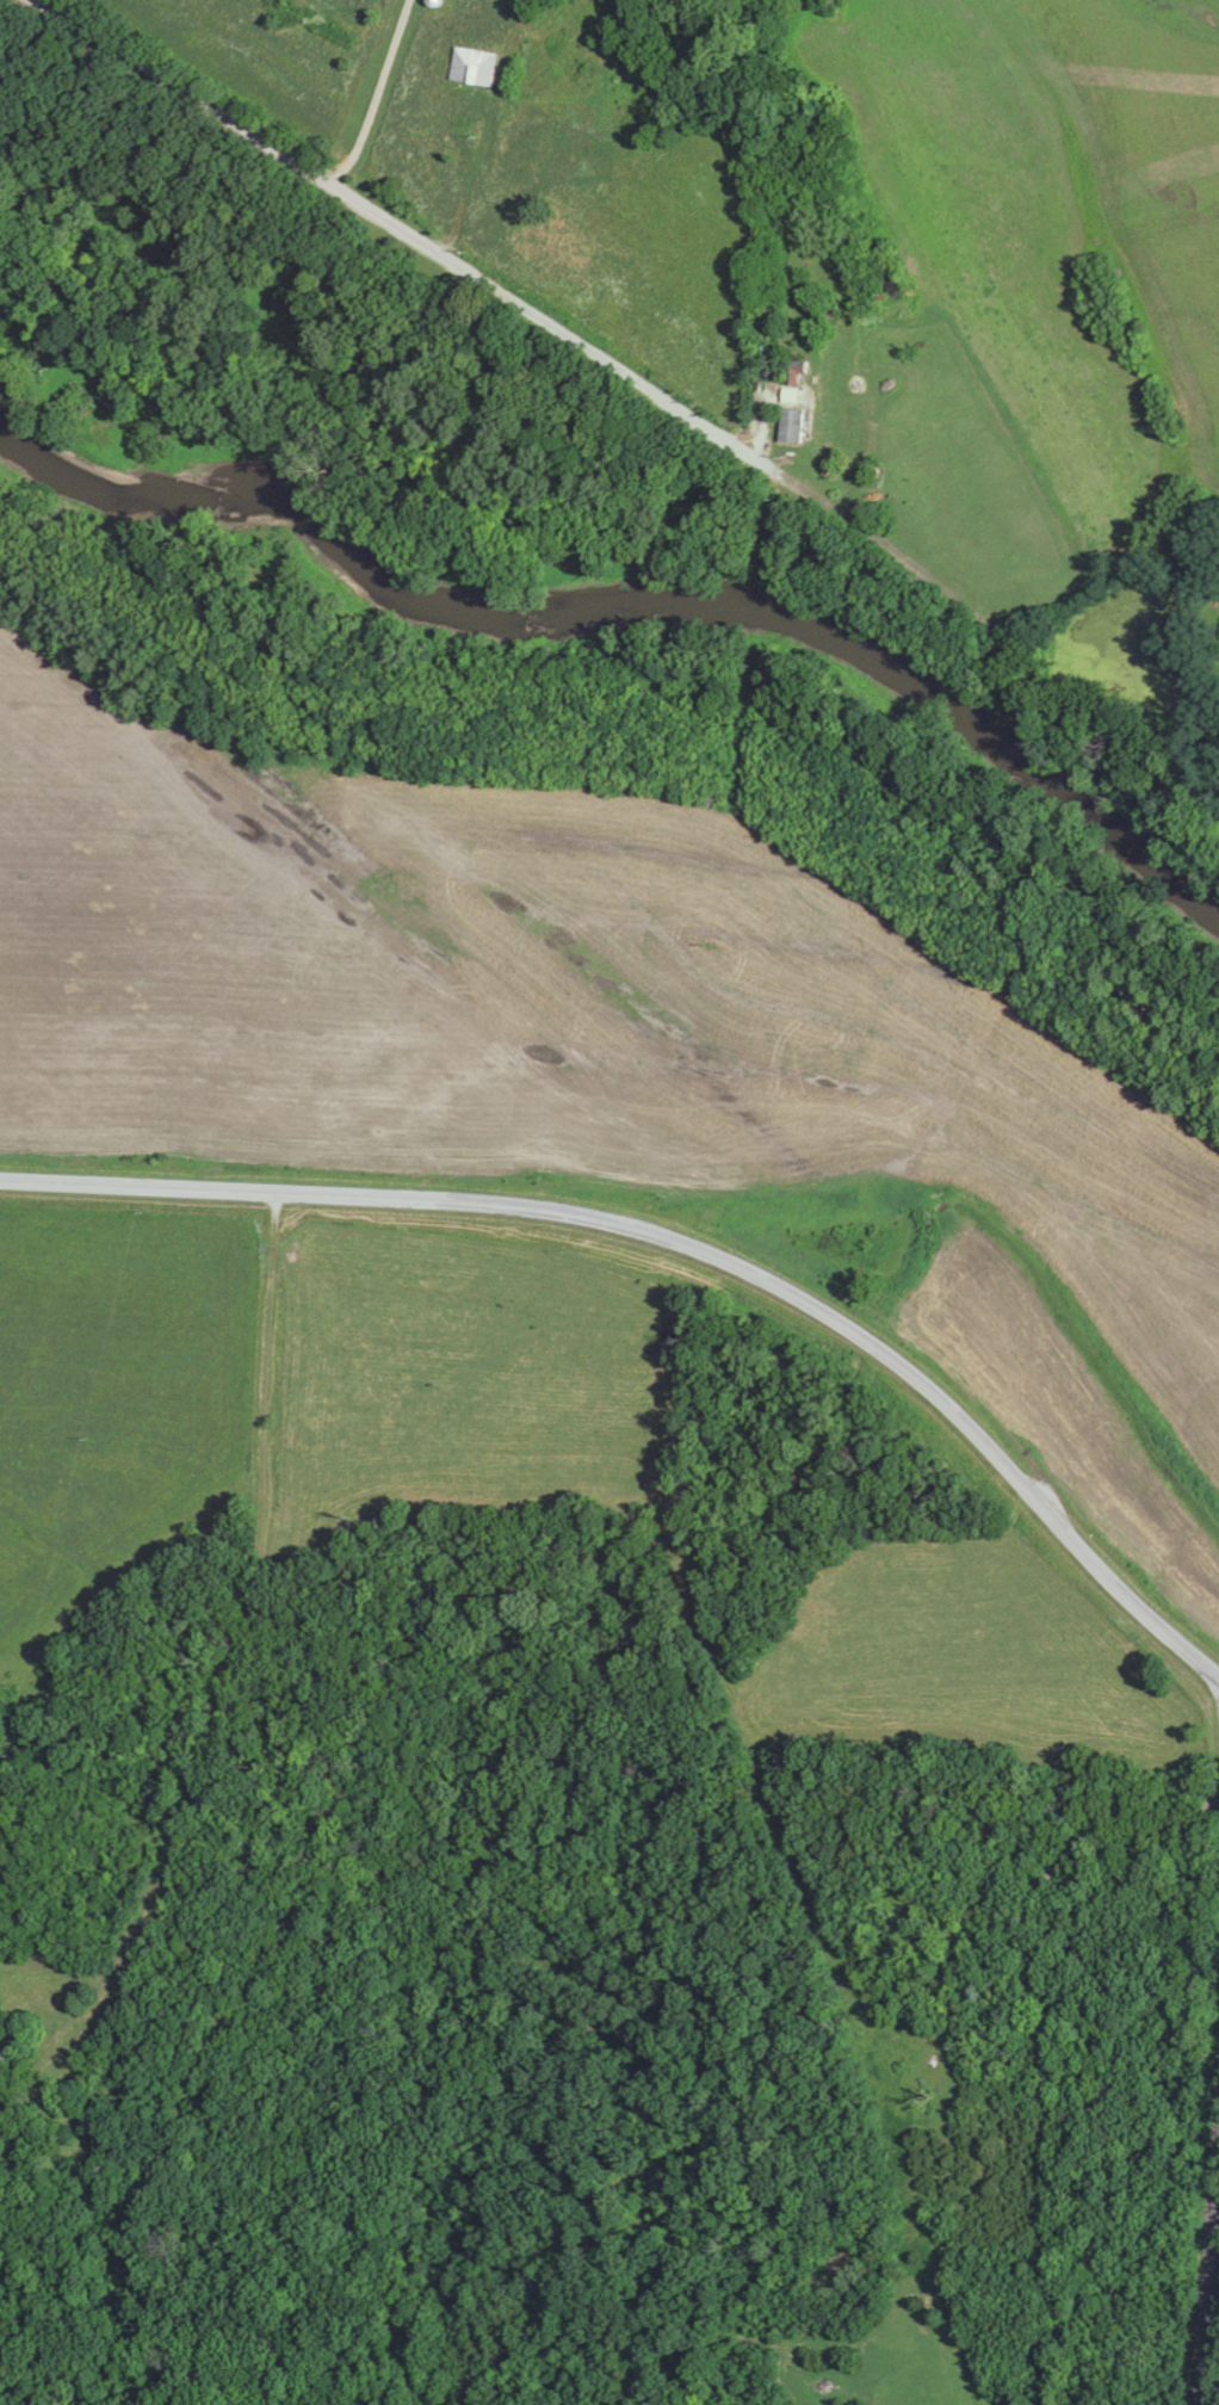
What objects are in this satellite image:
building: (471, 66)
road: (471, 181)
road: (457, 270)
building: (790, 375)
building: (788, 426)
building: (871, 475)
river: (629, 612)
road: (685, 1242)
road: (239, 1651)
building: (0, 2057)
road: (1215, 2306)

